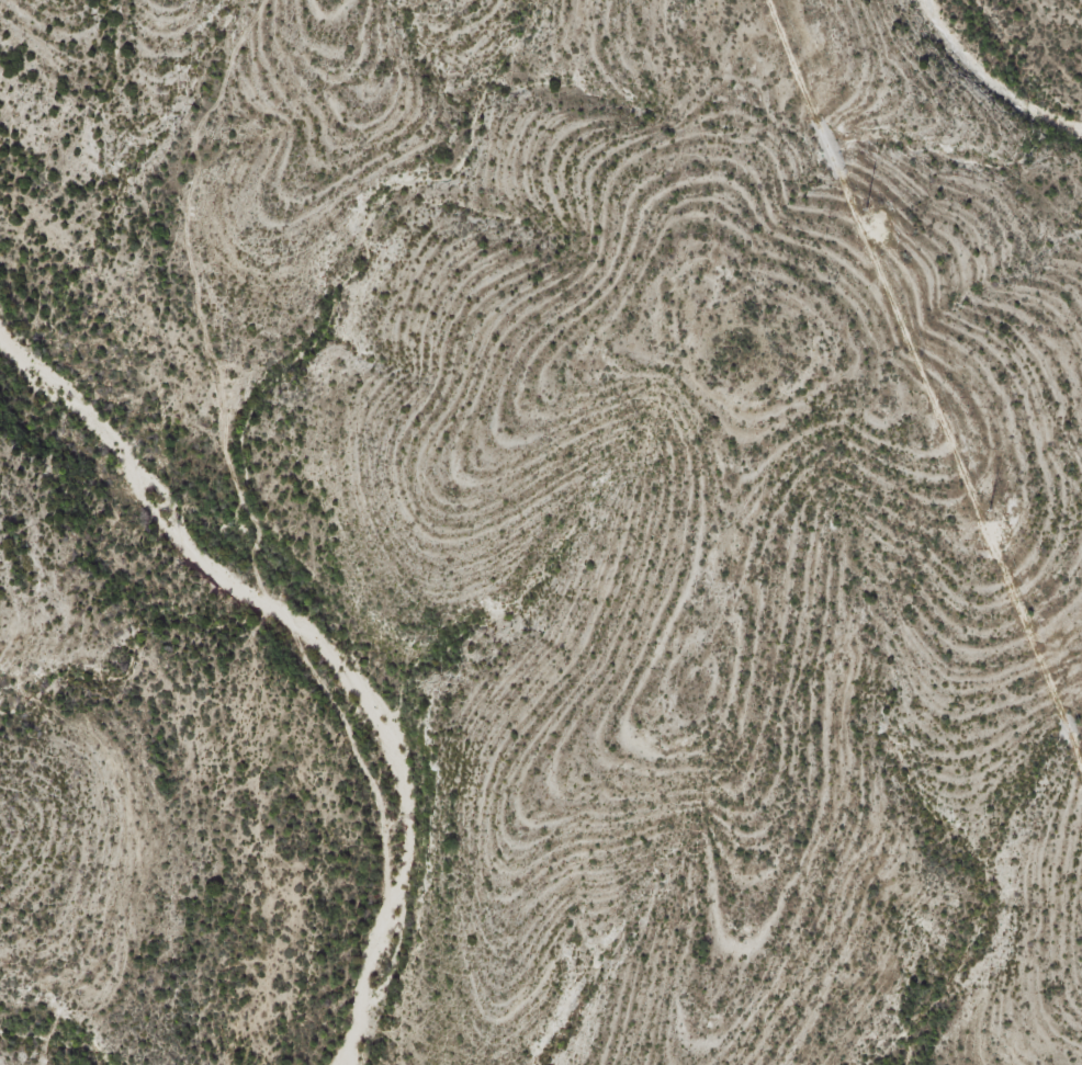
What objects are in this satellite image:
power tower: (865, 205)
power tower: (990, 505)

